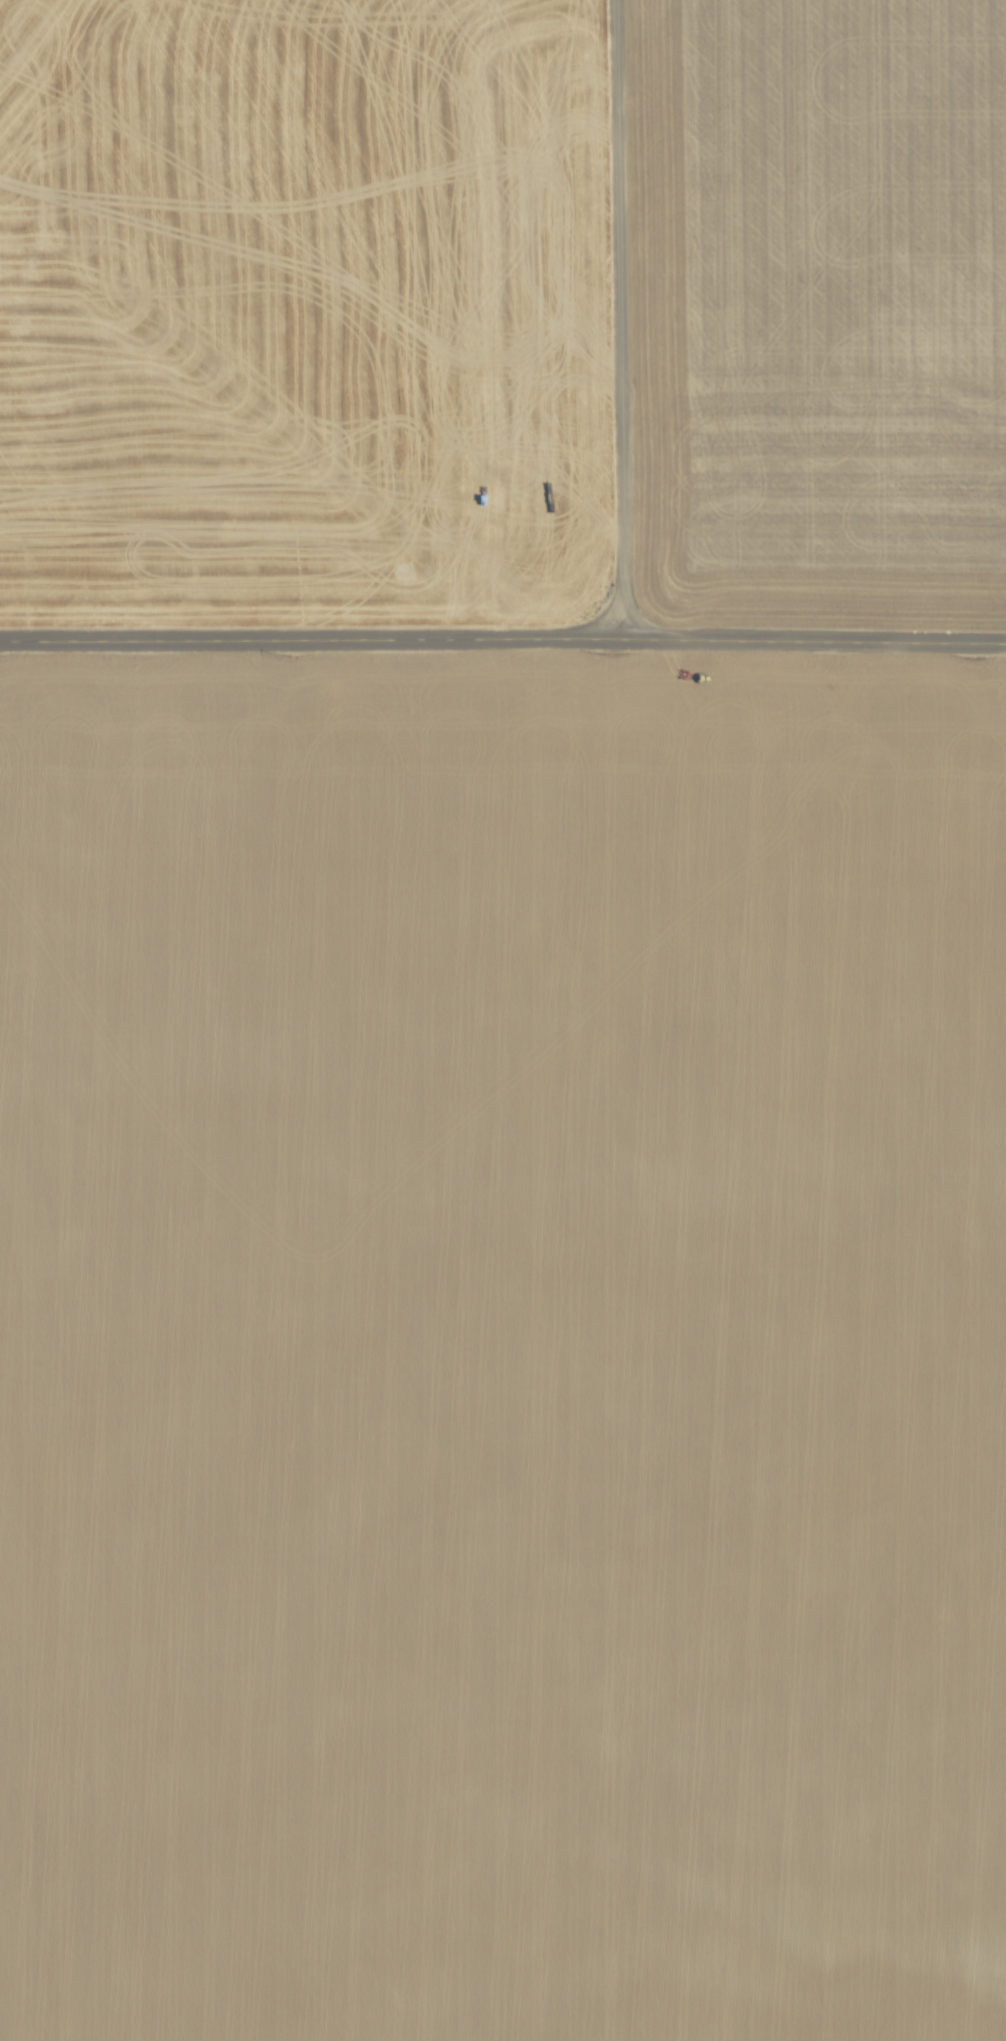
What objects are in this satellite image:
road: (615, 318)
road: (503, 637)

